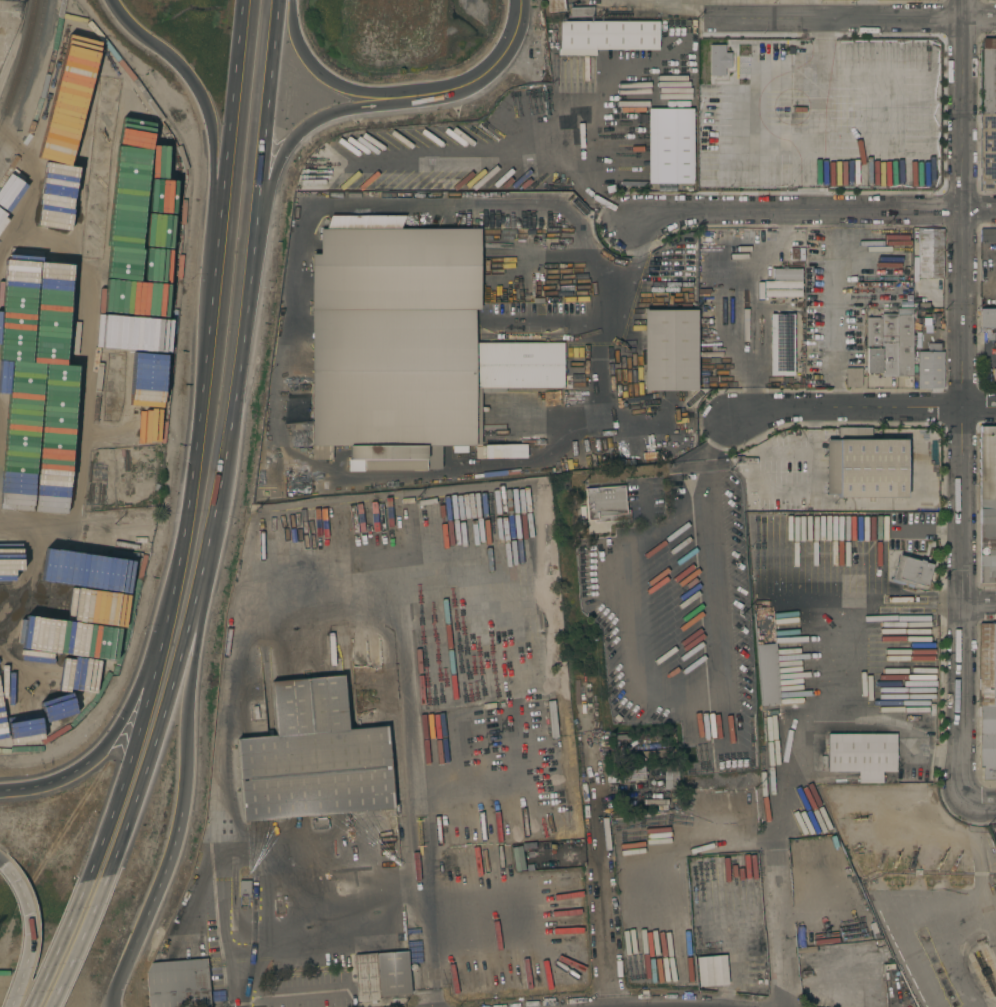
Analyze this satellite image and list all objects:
road: (693, 4)
building: (555, 8)
road: (827, 9)
power tower: (5, 10)
building: (581, 12)
road: (853, 19)
building: (608, 35)
railway: (21, 64)
road: (484, 72)
railway: (29, 75)
building: (728, 75)
road: (322, 76)
building: (988, 76)
road: (230, 91)
building: (669, 145)
road: (535, 149)
building: (987, 152)
road: (211, 160)
road: (260, 165)
road: (274, 173)
road: (374, 201)
road: (35, 209)
road: (812, 210)
building: (987, 235)
building: (929, 253)
road: (52, 270)
road: (213, 271)
road: (630, 277)
building: (784, 279)
building: (782, 293)
road: (77, 303)
building: (987, 318)
road: (834, 320)
building: (873, 342)
building: (904, 342)
building: (405, 344)
building: (781, 344)
building: (889, 345)
building: (668, 350)
building: (930, 370)
building: (853, 377)
road: (963, 401)
road: (865, 408)
building: (292, 409)
road: (616, 422)
road: (226, 449)
building: (513, 451)
road: (478, 464)
building: (864, 466)
building: (126, 467)
road: (379, 499)
building: (987, 503)
building: (605, 504)
building: (789, 506)
road: (187, 509)
road: (67, 521)
road: (30, 526)
building: (137, 542)
building: (910, 571)
building: (481, 575)
road: (980, 607)
road: (628, 613)
building: (921, 617)
building: (761, 619)
road: (832, 673)
building: (766, 674)
building: (987, 701)
building: (616, 718)
road: (117, 722)
road: (160, 722)
building: (503, 724)
road: (225, 727)
building: (622, 737)
road: (585, 743)
road: (746, 744)
road: (410, 752)
building: (854, 754)
building: (313, 757)
building: (628, 768)
road: (124, 770)
building: (672, 774)
road: (34, 787)
road: (184, 792)
road: (979, 803)
building: (637, 804)
petroleum well: (860, 818)
building: (637, 820)
building: (319, 824)
petroleum well: (882, 860)
petroleum well: (897, 860)
petroleum well: (912, 861)
petroleum well: (940, 862)
petroleum well: (956, 862)
road: (4, 865)
building: (244, 887)
road: (323, 921)
road: (29, 936)
road: (79, 940)
road: (56, 945)
building: (806, 950)
building: (870, 967)
building: (710, 971)
building: (808, 972)
building: (381, 975)
building: (177, 984)

